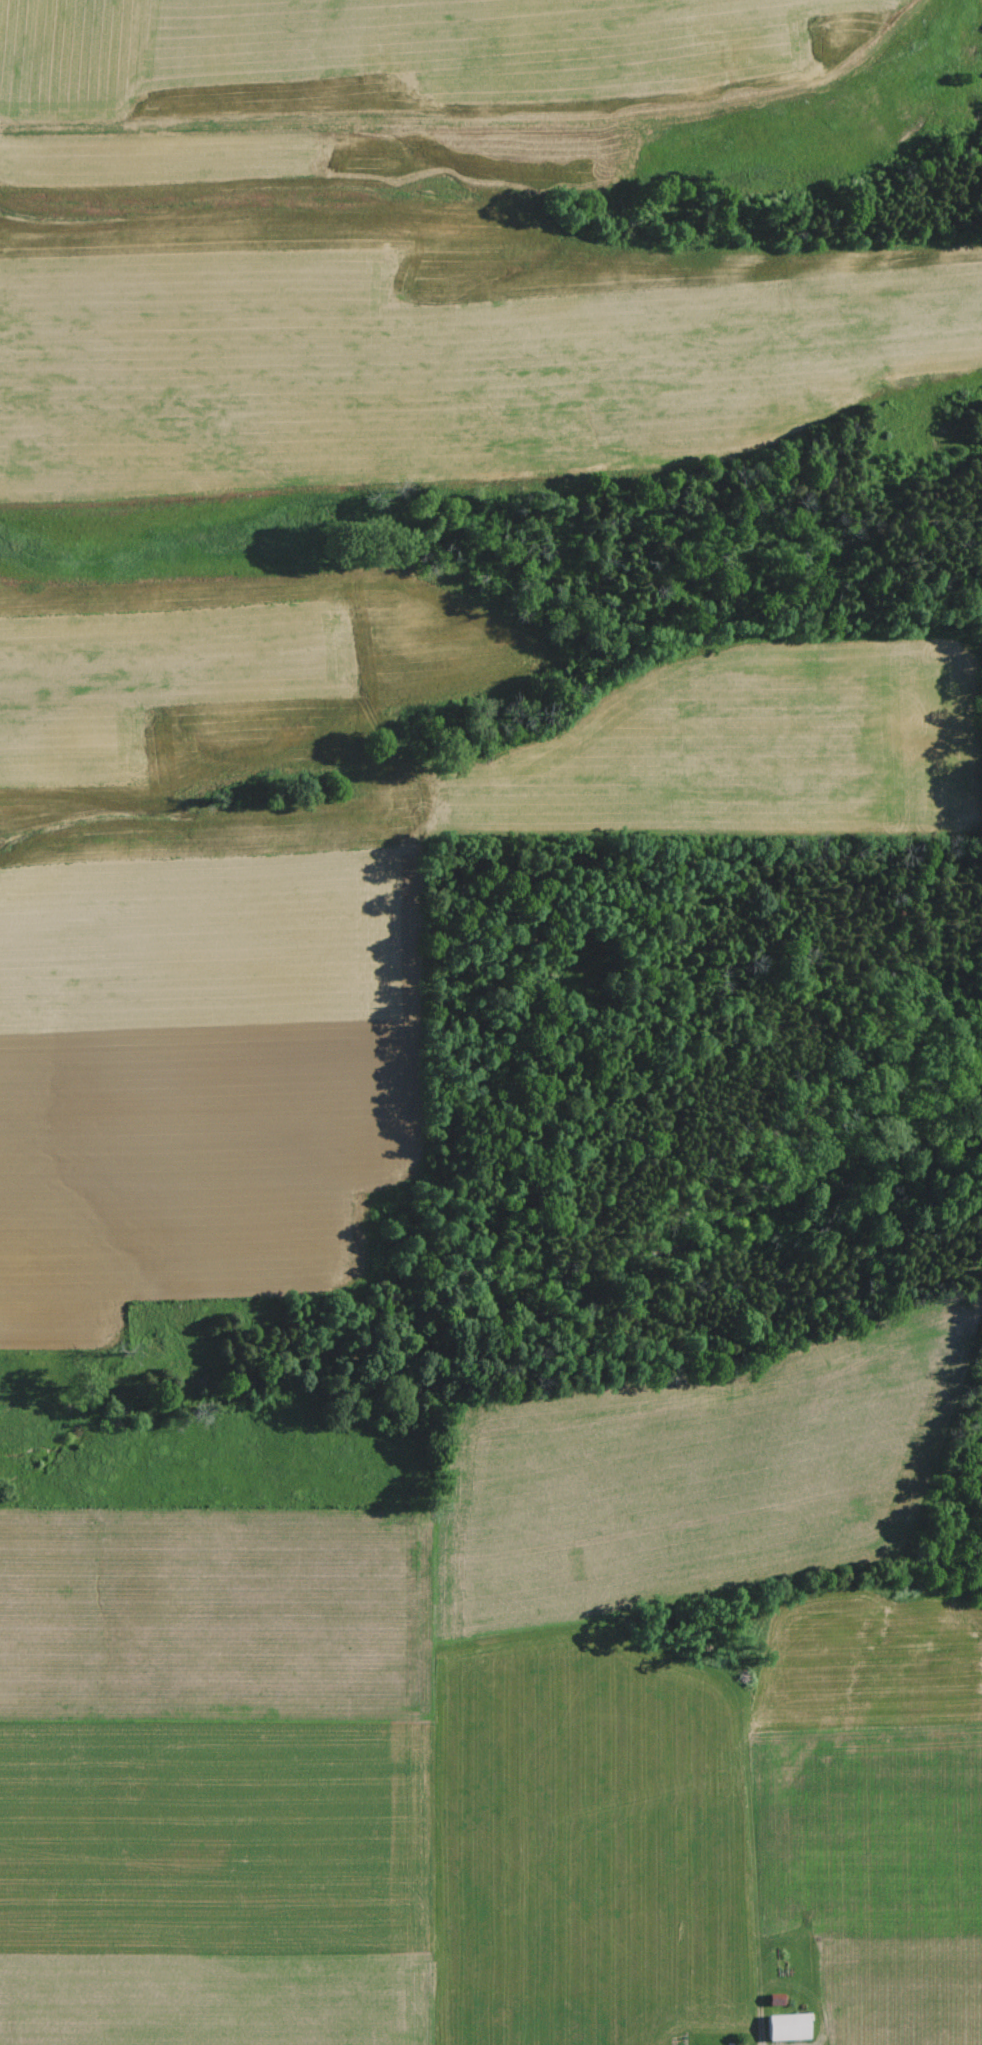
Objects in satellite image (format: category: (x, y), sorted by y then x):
crop: (215, 1841)
crop: (215, 2001)
building: (787, 2026)

